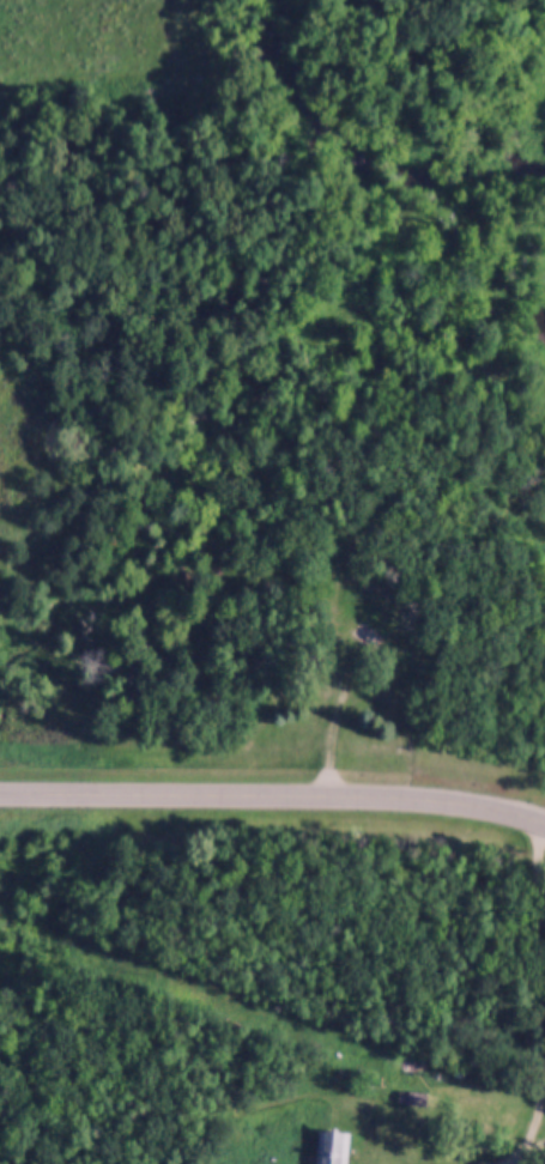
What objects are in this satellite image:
road: (337, 713)
road: (272, 794)
building: (332, 1147)
road: (526, 1150)

